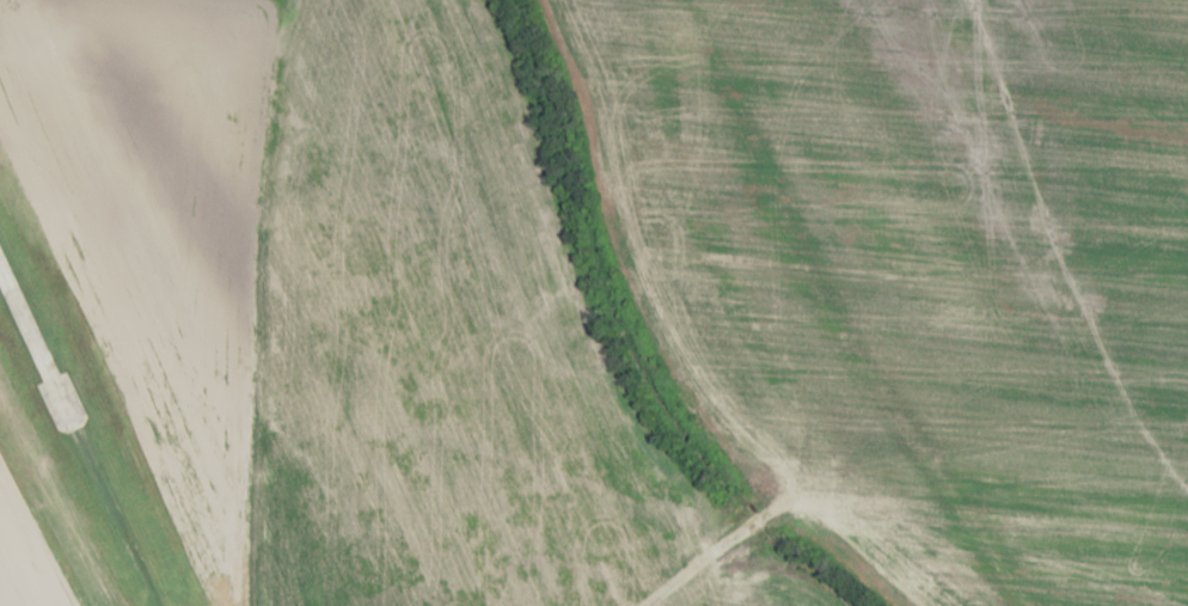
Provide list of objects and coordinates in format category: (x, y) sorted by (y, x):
airport runway: (35, 335)

